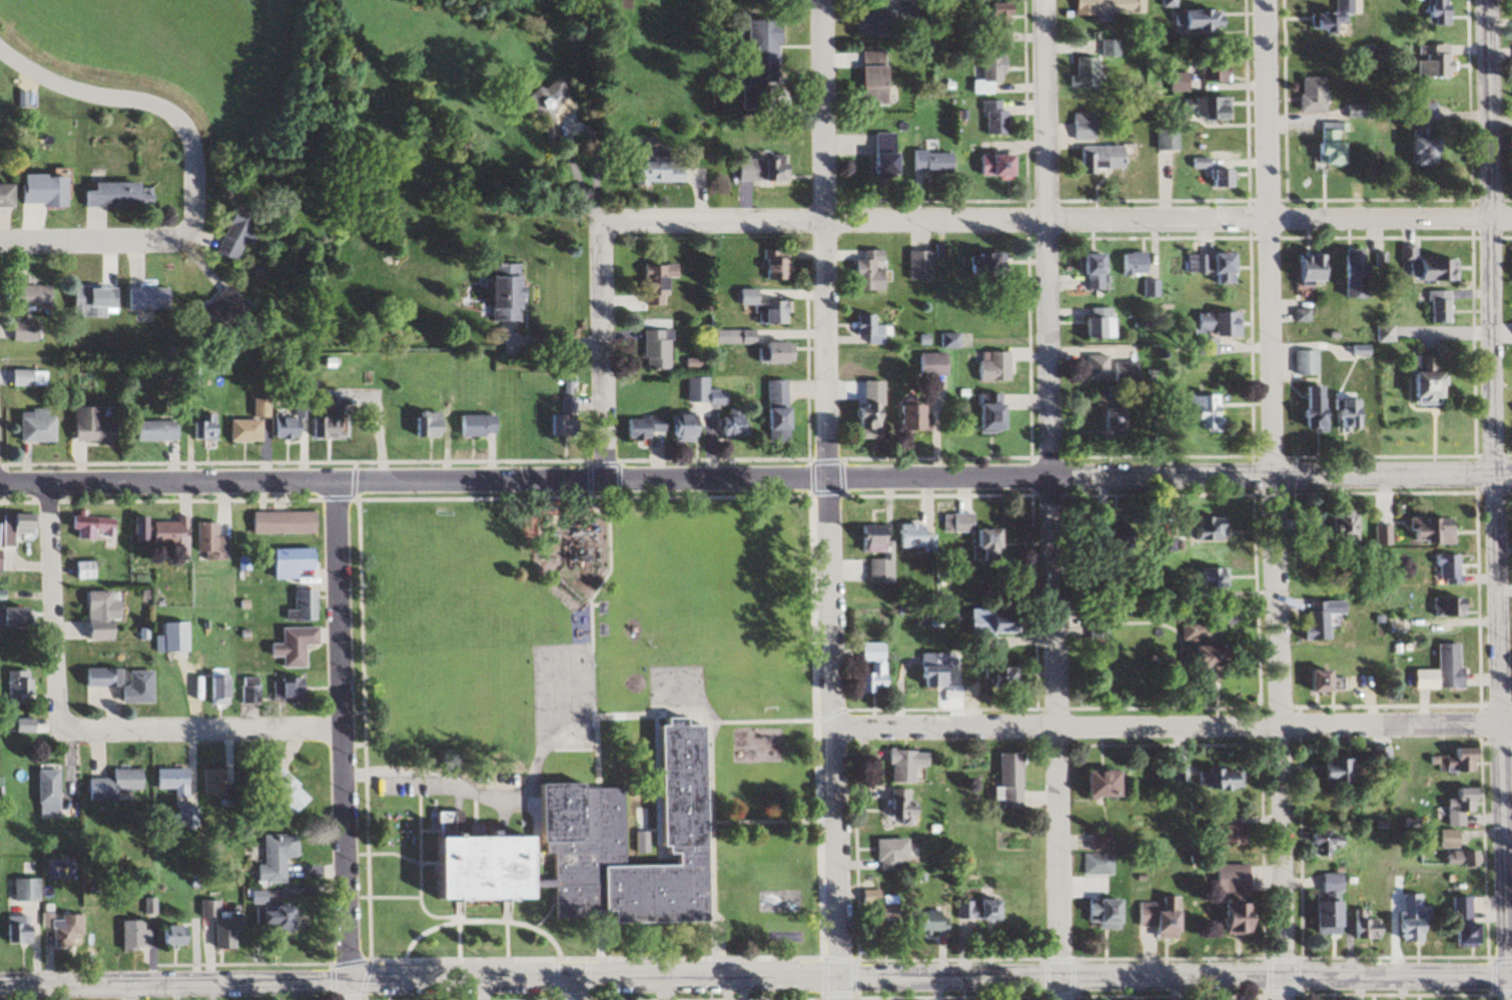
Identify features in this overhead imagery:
building: (1110, 6)
building: (1429, 10)
building: (1511, 10)
building: (1327, 18)
building: (892, 20)
building: (1202, 22)
building: (1002, 24)
building: (1112, 48)
building: (768, 53)
building: (1427, 61)
road: (754, 66)
building: (1511, 72)
building: (1089, 73)
building: (993, 75)
building: (1218, 76)
building: (879, 78)
building: (1181, 82)
building: (1306, 94)
building: (1212, 109)
building: (1417, 113)
building: (998, 119)
building: (1087, 127)
building: (1169, 140)
building: (1325, 144)
building: (1414, 148)
building: (890, 156)
building: (1105, 160)
building: (936, 163)
building: (1002, 166)
building: (767, 170)
building: (662, 172)
road: (194, 173)
building: (1209, 174)
building: (50, 192)
building: (126, 196)
building: (9, 197)
road: (1059, 222)
building: (241, 236)
building: (993, 264)
building: (1138, 264)
building: (779, 265)
building: (923, 265)
building: (1207, 267)
building: (1301, 267)
building: (1421, 267)
building: (875, 270)
building: (1099, 270)
building: (1511, 270)
building: (1347, 273)
building: (663, 283)
building: (1151, 288)
building: (511, 292)
building: (36, 298)
building: (152, 298)
building: (100, 302)
building: (1434, 306)
building: (229, 309)
building: (771, 309)
building: (1105, 322)
building: (1221, 323)
building: (872, 328)
building: (28, 331)
building: (952, 341)
building: (661, 349)
road: (605, 352)
building: (785, 352)
building: (936, 364)
building: (997, 366)
building: (1101, 367)
building: (1130, 371)
building: (32, 378)
building: (1418, 379)
building: (703, 391)
building: (1320, 408)
building: (876, 409)
building: (782, 412)
building: (1211, 412)
building: (997, 416)
building: (1352, 416)
building: (569, 417)
building: (918, 417)
building: (1119, 419)
building: (95, 423)
building: (254, 423)
building: (293, 423)
building: (436, 424)
building: (737, 424)
building: (331, 425)
building: (483, 425)
building: (40, 426)
building: (649, 426)
building: (694, 427)
building: (209, 428)
building: (163, 431)
road: (755, 477)
road: (825, 486)
road: (1049, 486)
road: (1270, 489)
road: (1484, 489)
building: (287, 522)
building: (1345, 526)
building: (19, 527)
building: (88, 527)
building: (1218, 528)
building: (1428, 530)
building: (175, 534)
building: (917, 534)
building: (981, 535)
building: (1382, 535)
building: (1119, 538)
building: (213, 542)
building: (297, 562)
building: (1441, 569)
building: (88, 570)
building: (1218, 577)
road: (55, 606)
building: (306, 606)
building: (1443, 607)
building: (104, 615)
building: (18, 617)
building: (1324, 619)
building: (1101, 622)
building: (999, 623)
building: (1198, 631)
road: (592, 633)
building: (177, 636)
building: (298, 645)
building: (1217, 653)
building: (878, 667)
building: (1447, 670)
building: (941, 671)
building: (999, 677)
building: (1328, 680)
building: (22, 684)
building: (122, 685)
building: (222, 686)
building: (252, 689)
building: (290, 690)
road: (704, 711)
building: (28, 725)
road: (1172, 727)
road: (341, 730)
road: (202, 732)
building: (1462, 762)
building: (912, 765)
building: (1346, 772)
road: (437, 777)
building: (175, 780)
building: (1015, 780)
building: (1223, 780)
building: (216, 783)
building: (1112, 784)
building: (117, 785)
parking lot: (411, 786)
building: (286, 787)
building: (51, 792)
building: (1465, 806)
building: (908, 808)
building: (188, 816)
road: (768, 821)
building: (1228, 835)
building: (1452, 839)
building: (1331, 841)
building: (1105, 842)
building: (613, 845)
building: (896, 854)
building: (280, 857)
building: (1101, 864)
road: (420, 879)
building: (29, 890)
building: (1239, 895)
road: (394, 898)
building: (1336, 903)
building: (1465, 908)
building: (888, 910)
building: (984, 910)
building: (1110, 913)
building: (284, 916)
building: (1166, 916)
building: (1417, 917)
road: (482, 921)
building: (937, 922)
building: (225, 926)
building: (1371, 926)
building: (66, 928)
building: (22, 929)
road: (458, 932)
road: (507, 932)
building: (138, 934)
building: (1473, 934)
building: (178, 936)
road: (600, 942)
road: (717, 944)
road: (375, 960)
road: (756, 974)
road: (840, 986)
road: (1060, 986)
road: (566, 988)
road: (1286, 989)
road: (1500, 989)
road: (350, 990)

